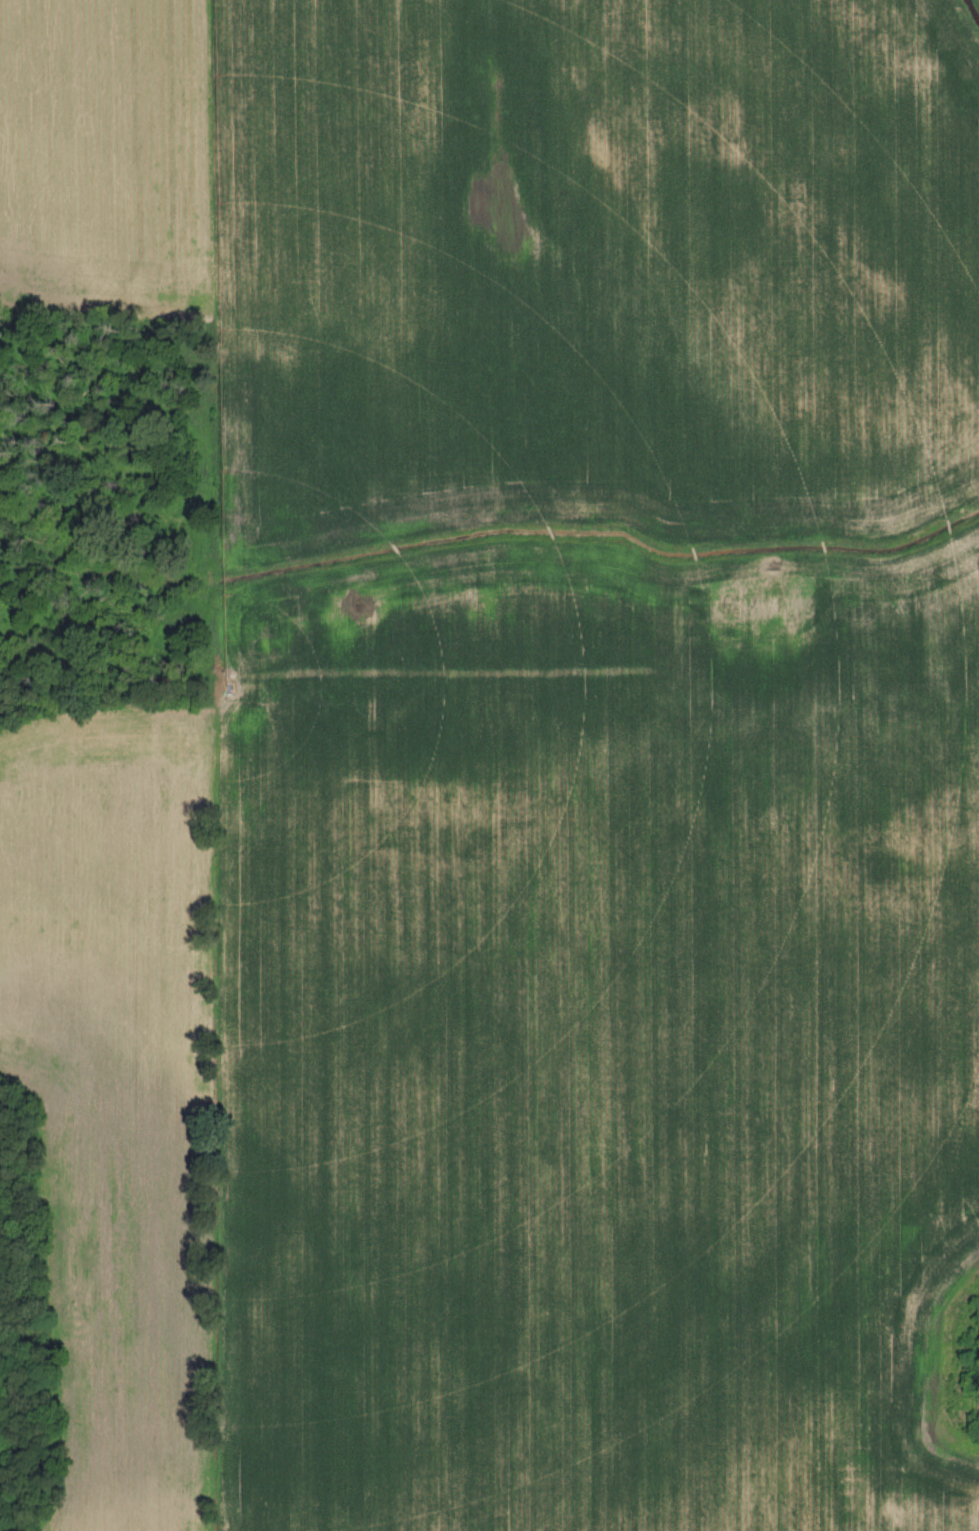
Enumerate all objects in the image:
crop: (526, 252)
crop: (604, 1045)
crop: (128, 1088)

